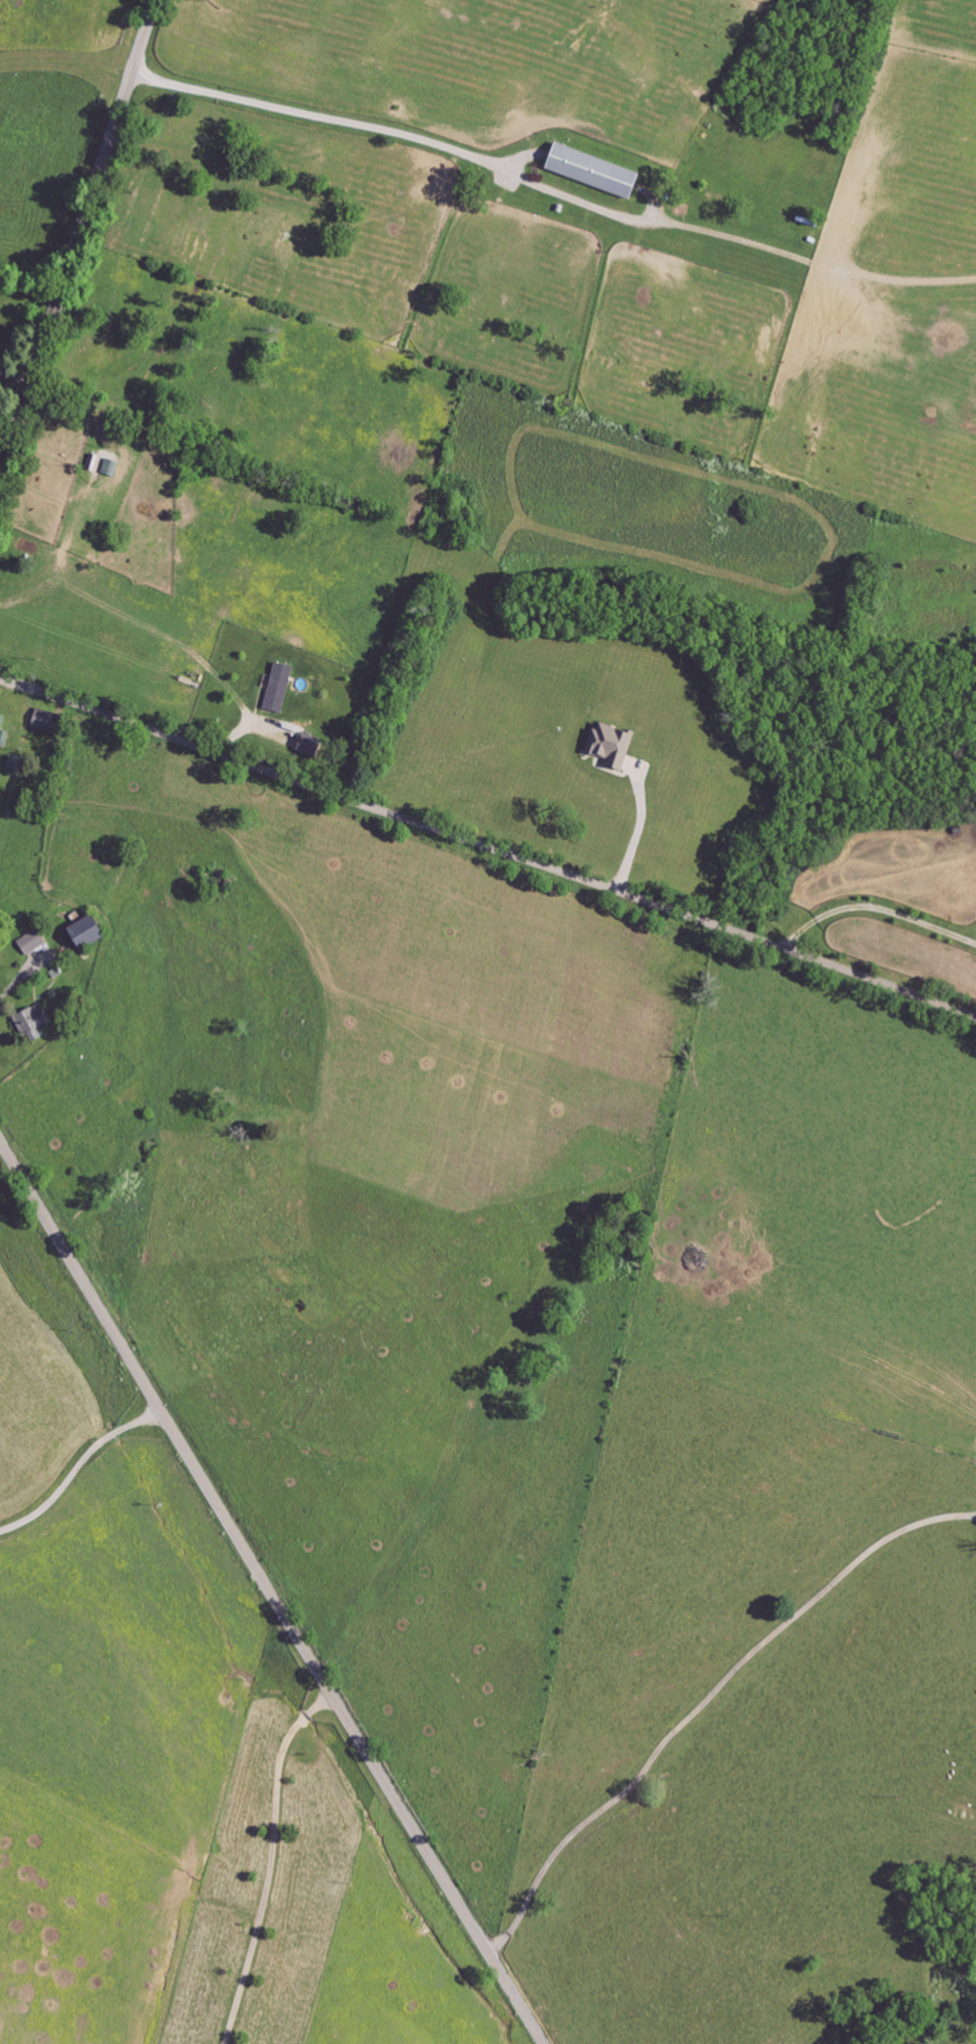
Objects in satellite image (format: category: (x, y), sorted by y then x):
road: (320, 113)
building: (600, 172)
road: (79, 239)
road: (16, 379)
building: (282, 688)
building: (0, 694)
building: (51, 722)
building: (5, 731)
building: (615, 746)
road: (636, 834)
road: (487, 848)
road: (875, 908)
building: (96, 932)
building: (35, 942)
building: (37, 1023)
road: (78, 1467)
road: (270, 1592)
road: (705, 1700)
road: (269, 1860)

